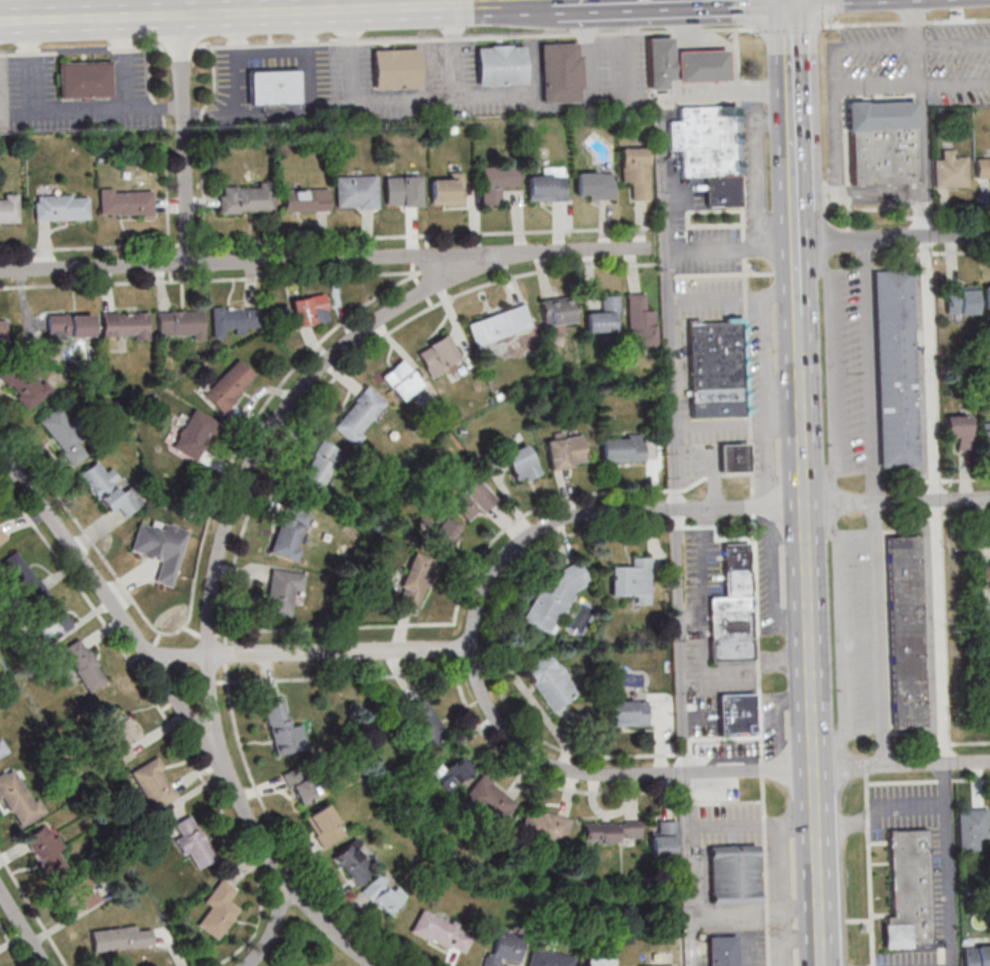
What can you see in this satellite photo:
road: (571, 0)
road: (544, 1)
road: (436, 3)
road: (309, 5)
road: (180, 8)
road: (368, 8)
road: (823, 13)
road: (748, 14)
road: (90, 19)
road: (906, 22)
road: (786, 26)
road: (374, 40)
road: (955, 46)
road: (861, 50)
building: (659, 62)
building: (501, 65)
building: (702, 66)
building: (396, 68)
road: (632, 71)
building: (560, 72)
building: (84, 79)
road: (591, 84)
road: (955, 85)
building: (273, 86)
road: (517, 94)
road: (694, 95)
road: (837, 99)
road: (404, 100)
road: (79, 112)
road: (789, 120)
building: (882, 140)
road: (185, 141)
building: (708, 149)
road: (923, 163)
building: (950, 170)
building: (983, 170)
building: (636, 171)
building: (497, 182)
building: (547, 185)
building: (594, 185)
building: (403, 191)
building: (447, 191)
building: (356, 192)
building: (247, 198)
building: (305, 200)
building: (125, 202)
road: (663, 206)
building: (61, 207)
building: (9, 210)
road: (927, 236)
road: (829, 240)
road: (730, 244)
road: (322, 261)
road: (796, 278)
building: (987, 294)
road: (771, 295)
road: (706, 298)
building: (961, 298)
building: (310, 310)
building: (556, 310)
building: (604, 316)
building: (233, 320)
building: (640, 322)
building: (179, 323)
building: (69, 325)
building: (124, 325)
building: (498, 326)
building: (2, 331)
road: (798, 334)
building: (439, 358)
building: (716, 360)
road: (770, 361)
building: (894, 366)
road: (831, 369)
road: (670, 379)
building: (401, 380)
building: (20, 385)
building: (230, 385)
building: (360, 415)
road: (736, 427)
building: (959, 430)
building: (195, 434)
building: (985, 434)
building: (65, 436)
building: (623, 448)
building: (565, 449)
building: (733, 458)
building: (522, 463)
building: (320, 468)
road: (250, 470)
building: (110, 489)
road: (752, 497)
building: (471, 500)
road: (874, 502)
road: (692, 509)
building: (444, 531)
building: (291, 532)
building: (2, 536)
building: (161, 549)
building: (21, 577)
building: (414, 581)
building: (633, 581)
building: (283, 590)
building: (554, 598)
road: (940, 601)
building: (733, 608)
building: (52, 624)
building: (904, 630)
road: (841, 634)
road: (679, 642)
road: (309, 653)
road: (810, 658)
building: (84, 665)
road: (745, 672)
building: (551, 682)
building: (985, 698)
road: (176, 699)
building: (737, 712)
building: (629, 714)
building: (425, 721)
building: (282, 728)
building: (121, 733)
road: (939, 744)
building: (2, 750)
road: (866, 770)
road: (695, 774)
road: (928, 780)
building: (154, 783)
building: (299, 785)
building: (18, 798)
building: (489, 800)
road: (687, 801)
road: (879, 810)
building: (325, 825)
building: (545, 827)
building: (971, 828)
building: (612, 831)
road: (691, 833)
building: (663, 840)
building: (192, 841)
building: (46, 850)
building: (354, 863)
road: (869, 869)
building: (733, 874)
building: (909, 890)
building: (382, 894)
building: (77, 896)
building: (219, 909)
road: (756, 915)
road: (321, 923)
road: (24, 925)
building: (442, 932)
building: (121, 937)
building: (505, 949)
building: (722, 950)
building: (976, 955)
building: (549, 958)
building: (599, 961)
building: (649, 965)

